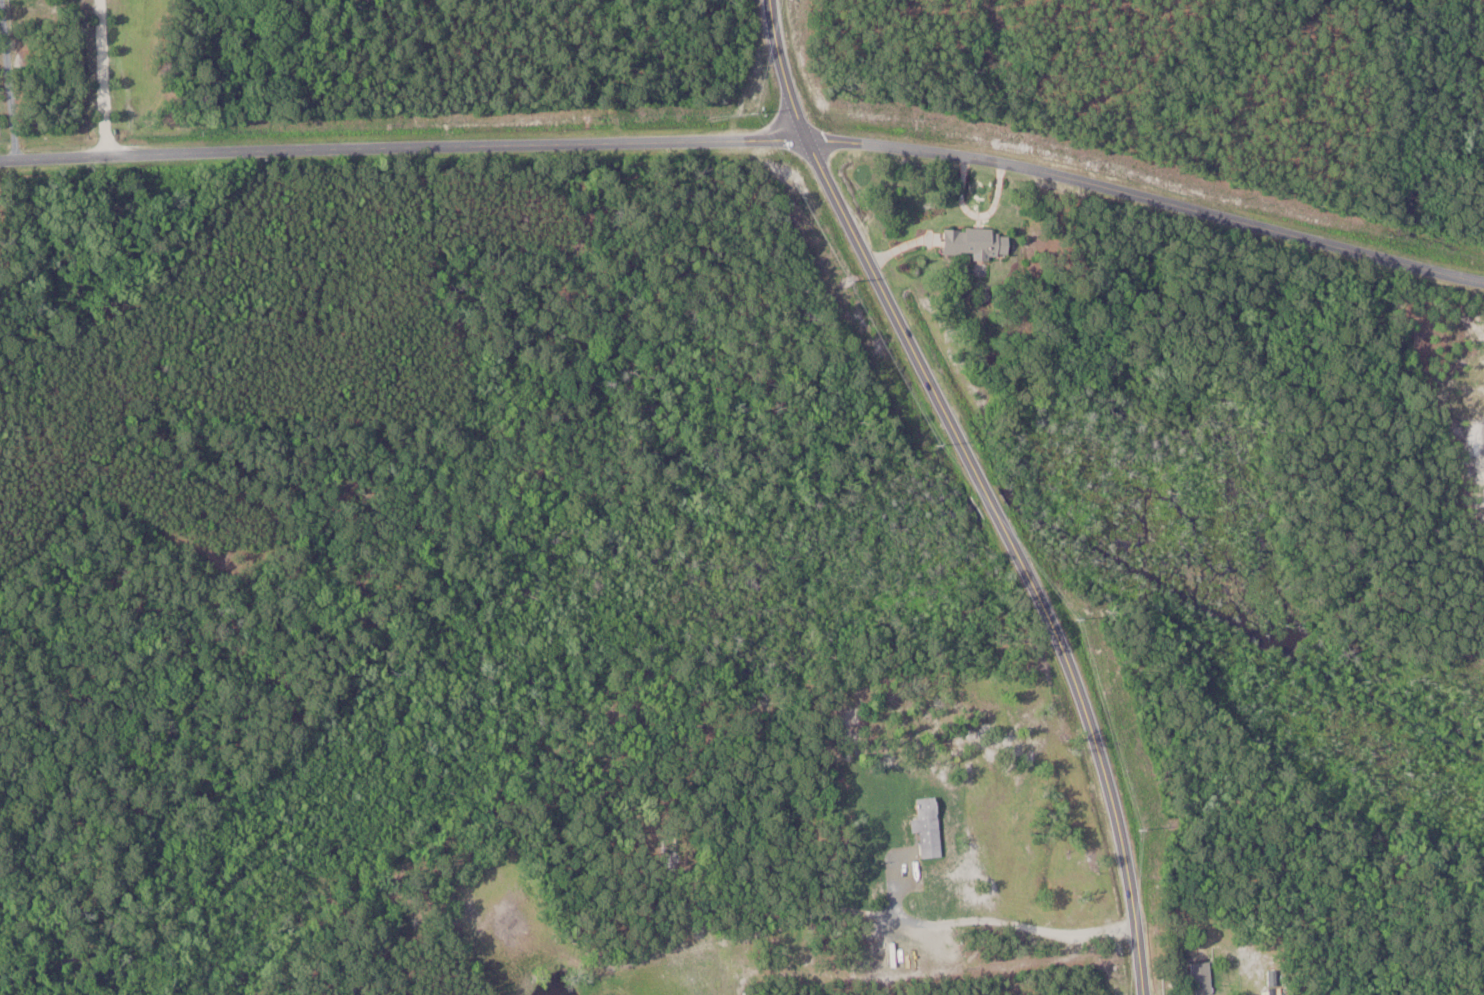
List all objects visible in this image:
road: (103, 78)
road: (9, 80)
road: (750, 141)
building: (980, 241)
road: (983, 488)
building: (934, 826)
road: (993, 919)
building: (1277, 975)
building: (1206, 976)

